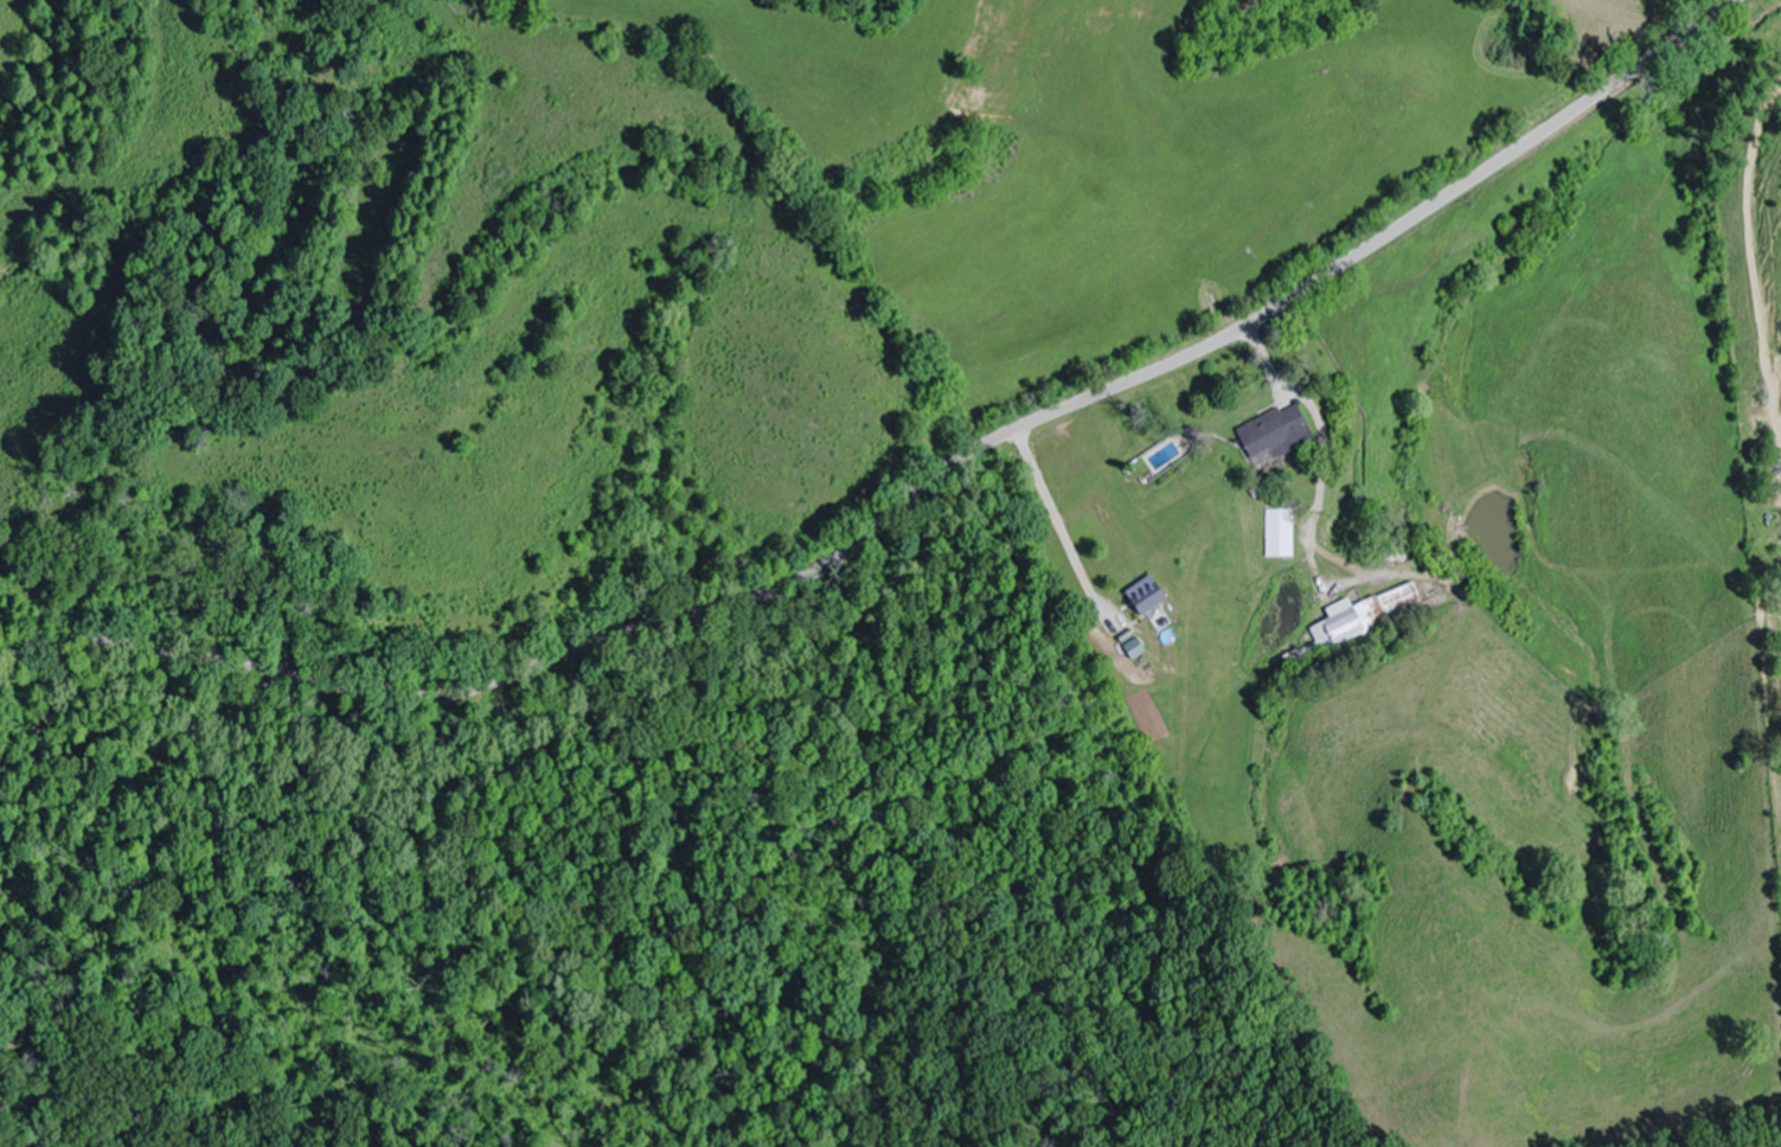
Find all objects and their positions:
building: (1273, 432)
road: (910, 494)
road: (1761, 530)
building: (1277, 532)
building: (1145, 595)
building: (1365, 615)
road: (968, 814)

